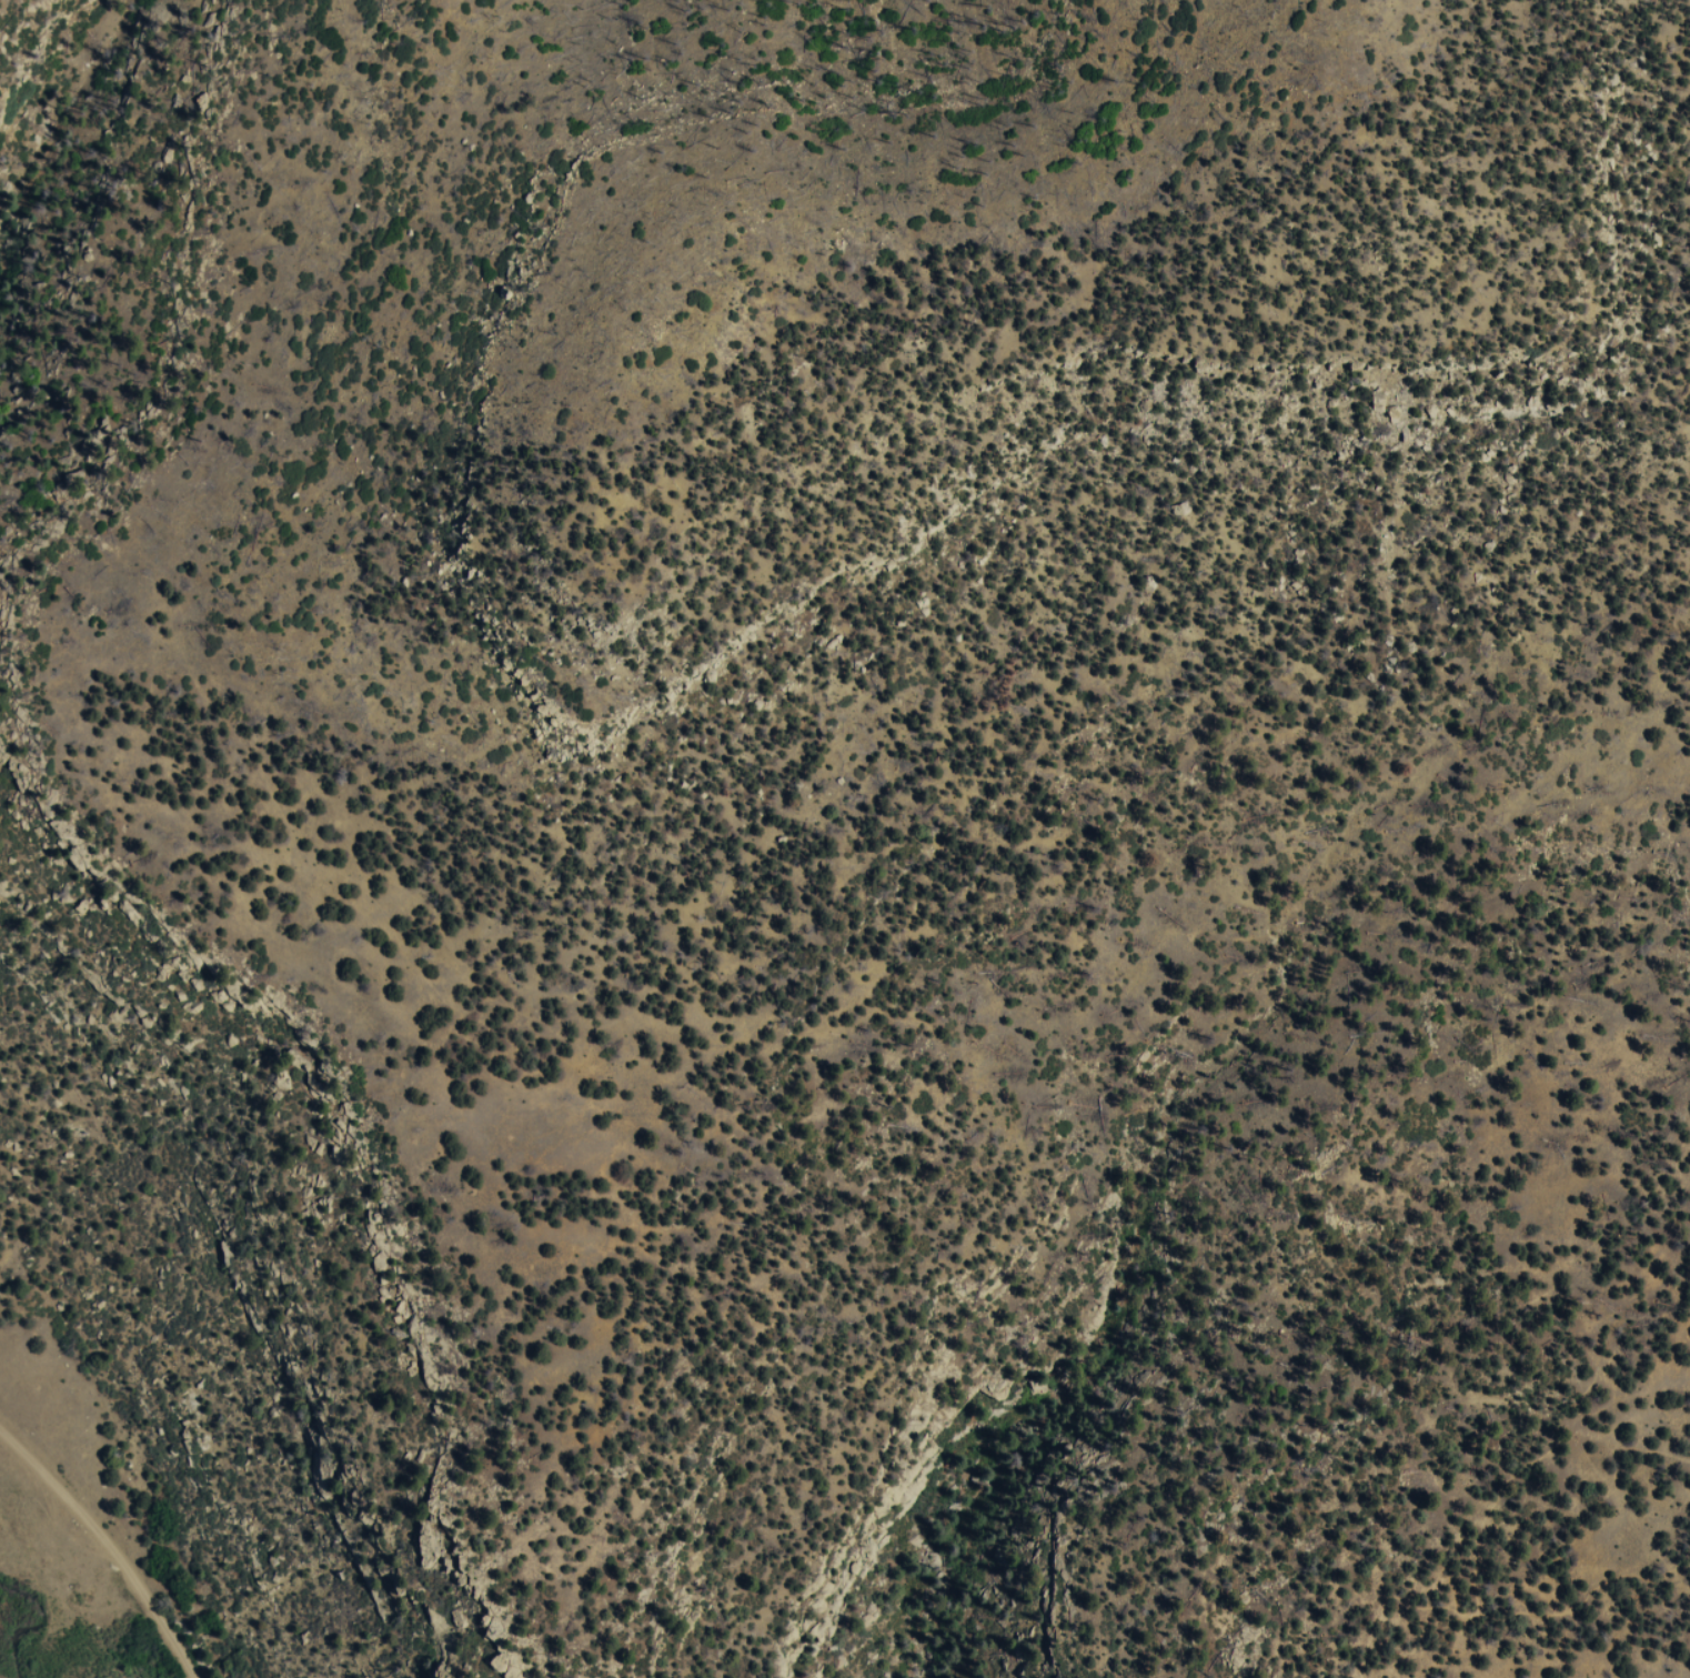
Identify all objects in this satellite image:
road: (107, 1543)
road: (1510, 1614)

